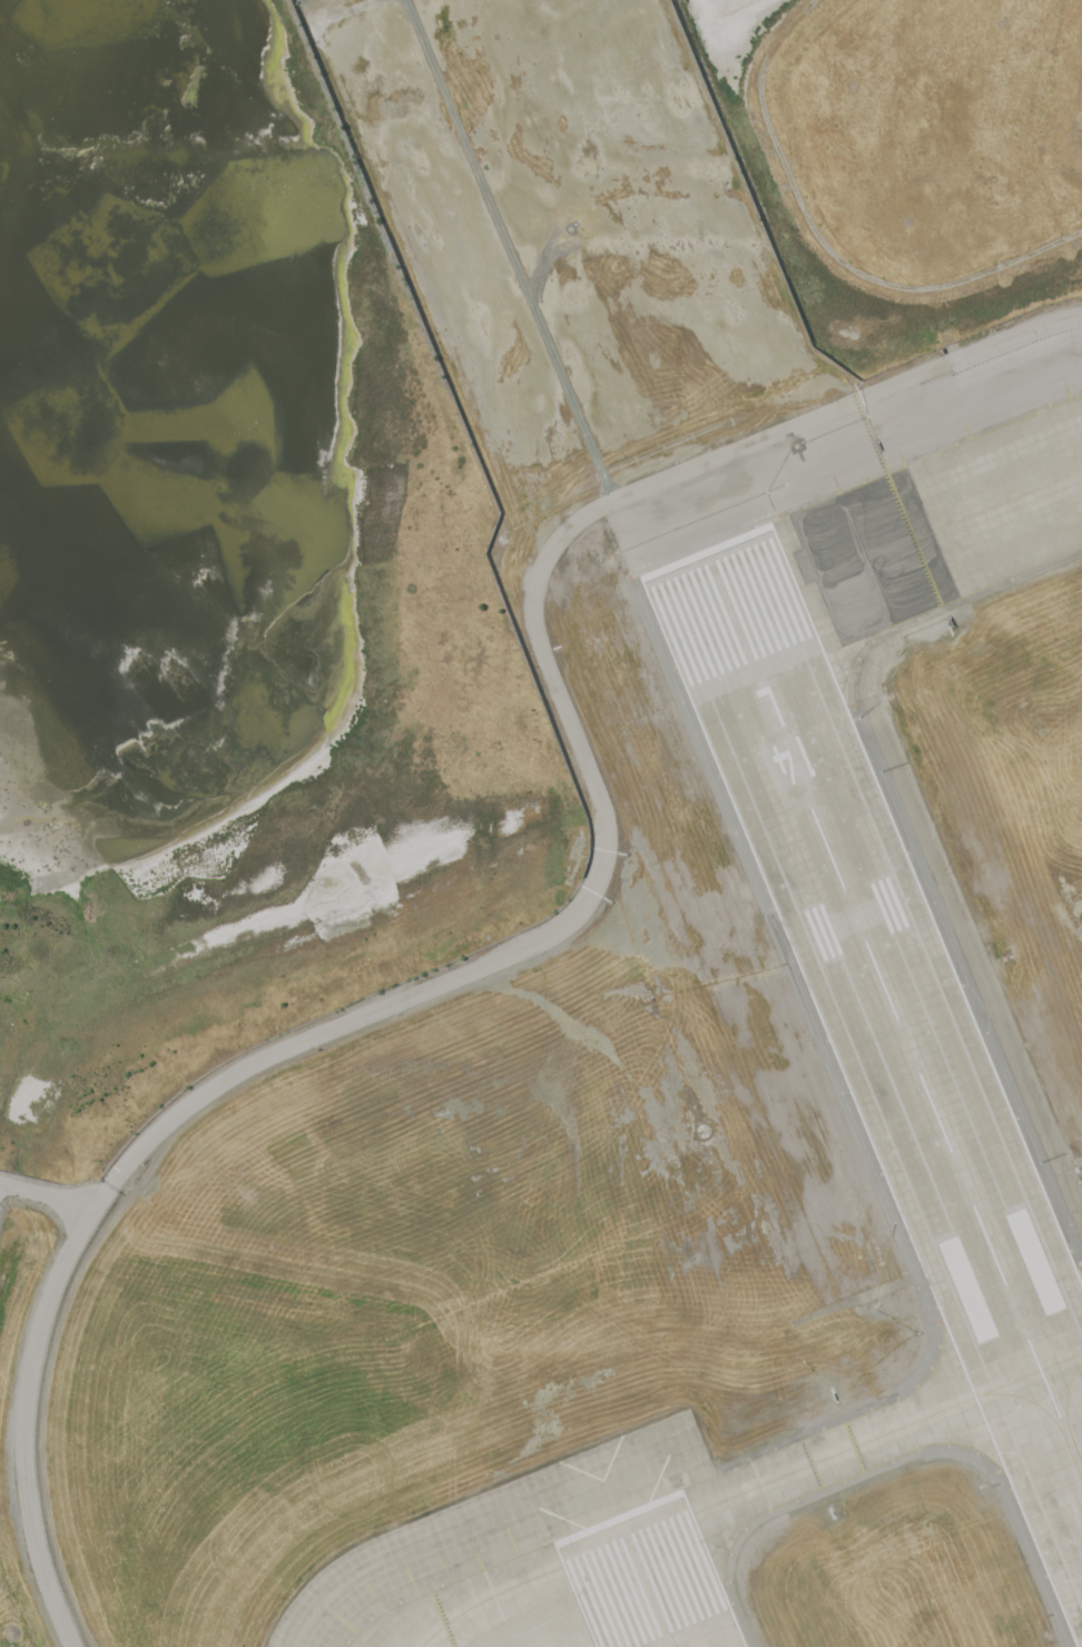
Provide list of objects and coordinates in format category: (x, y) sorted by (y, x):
road: (825, 247)
road: (506, 252)
road: (840, 410)
airport taxiway: (908, 545)
road: (538, 943)
airport: (651, 982)
airport runway: (896, 1014)
road: (47, 1197)
road: (27, 1412)
airport taxiway: (748, 1492)
airport runway: (647, 1581)

